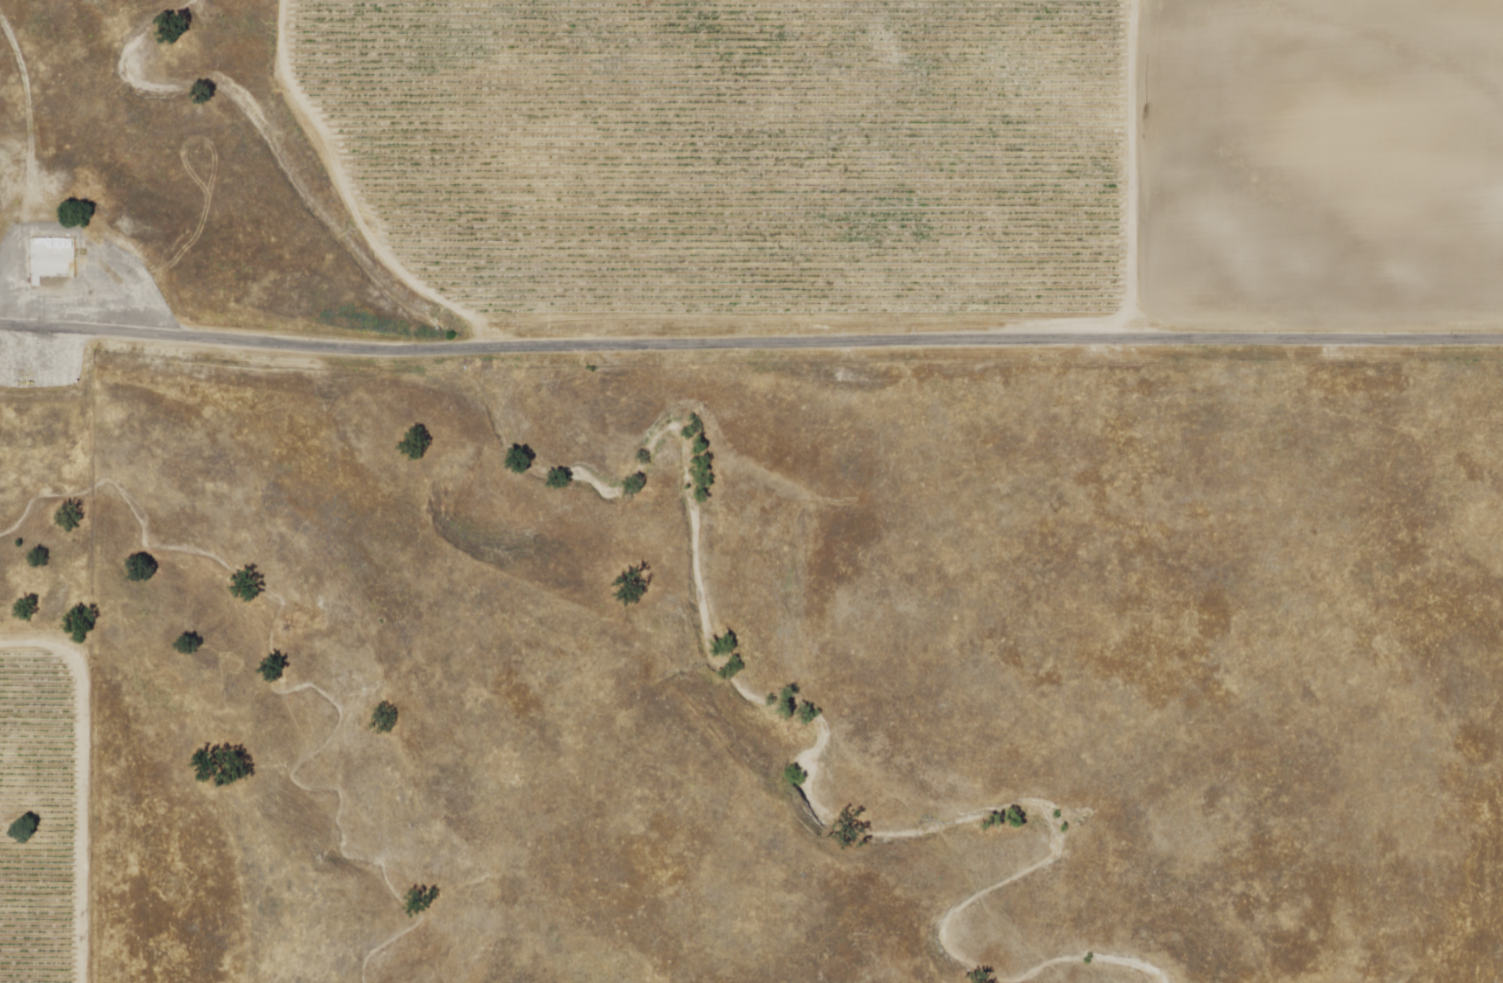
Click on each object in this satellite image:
road: (24, 69)
building: (38, 249)
road: (750, 343)
road: (84, 780)

